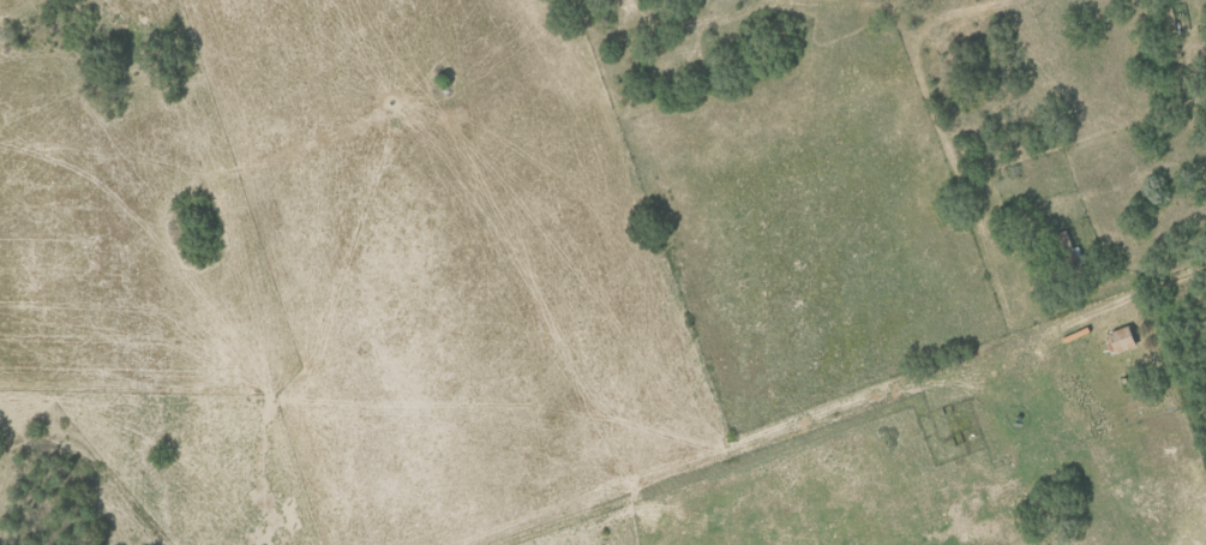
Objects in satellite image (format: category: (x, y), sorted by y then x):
building: (1118, 340)

